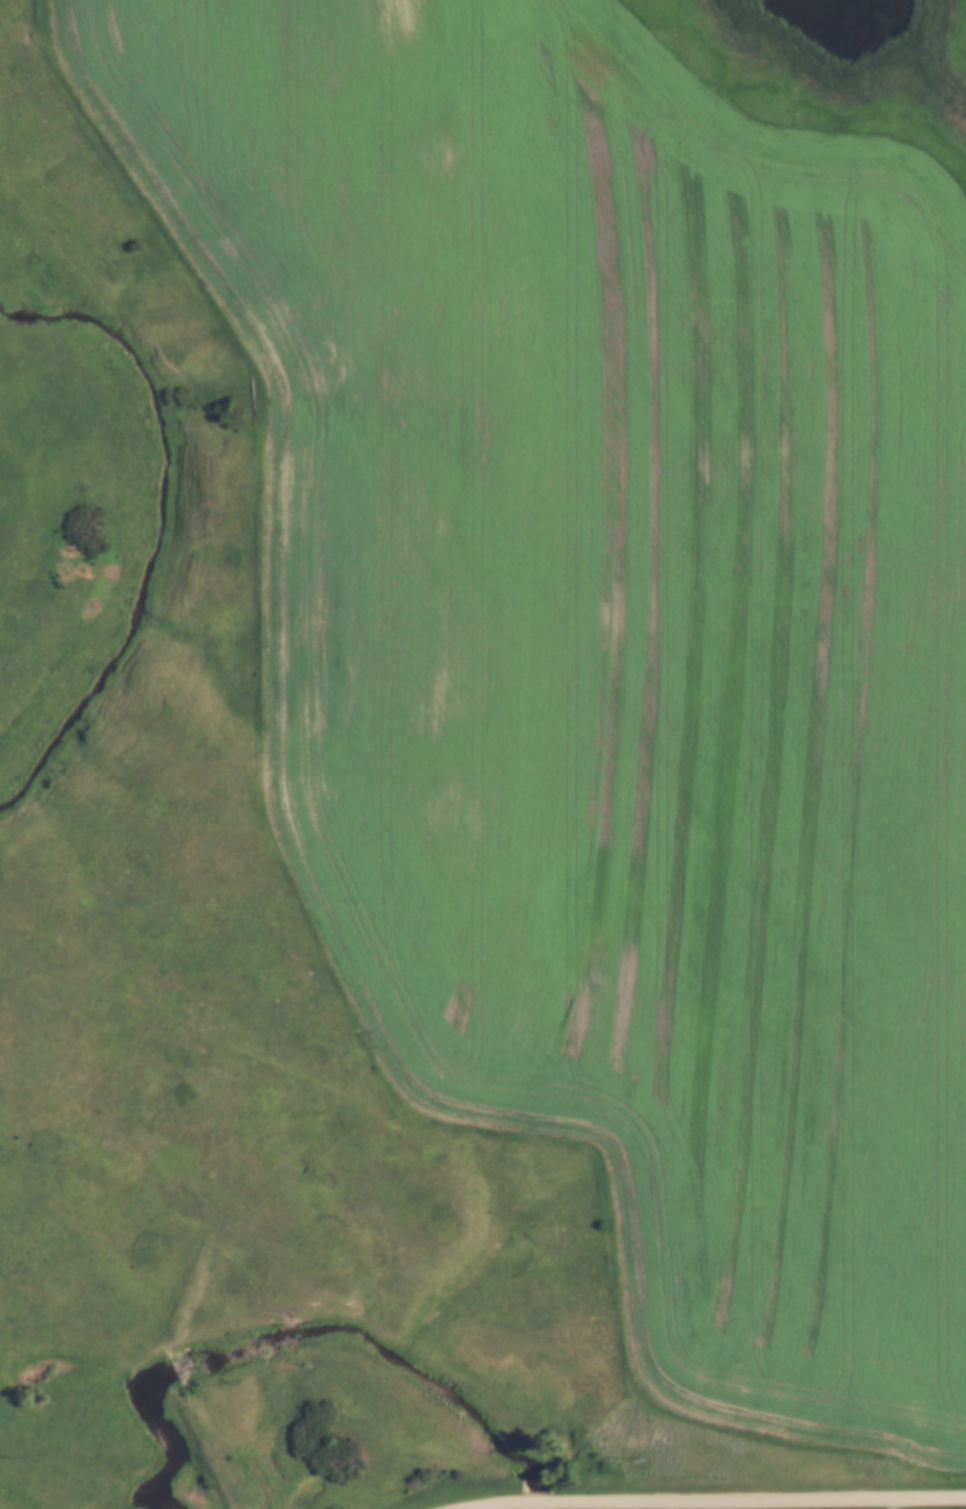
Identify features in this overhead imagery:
road: (537, 1501)
road: (758, 1501)
road: (490, 1503)

